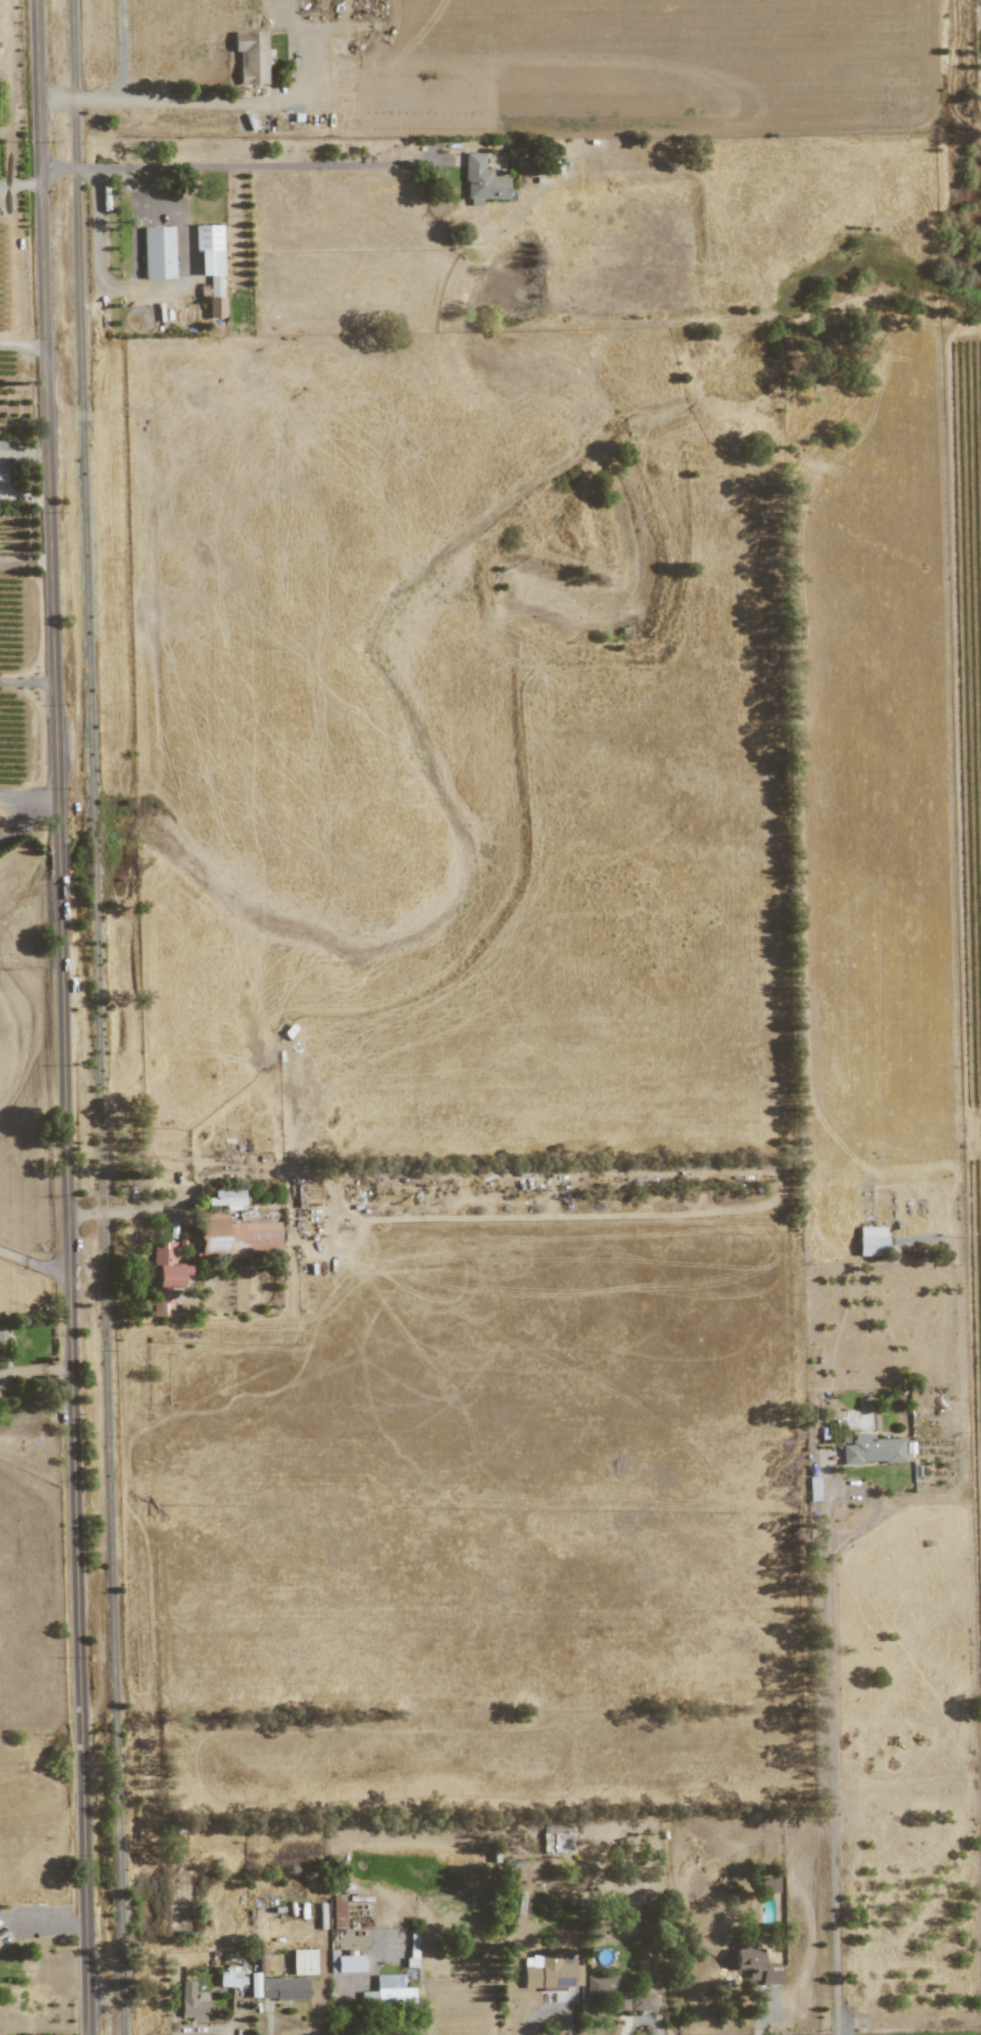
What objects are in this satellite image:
building: (251, 57)
road: (119, 91)
road: (255, 104)
road: (289, 166)
road: (84, 169)
road: (127, 182)
building: (481, 182)
road: (134, 242)
road: (97, 243)
road: (177, 248)
building: (157, 252)
building: (210, 264)
road: (24, 343)
road: (28, 683)
road: (30, 798)
road: (10, 820)
road: (67, 1017)
road: (197, 1180)
building: (226, 1200)
road: (87, 1215)
building: (236, 1238)
building: (871, 1241)
road: (14, 1255)
road: (51, 1268)
building: (165, 1279)
building: (2, 1337)
building: (871, 1451)
building: (813, 1489)
road: (863, 1490)
road: (829, 1789)
building: (561, 1837)
building: (768, 1885)
building: (338, 1911)
building: (302, 1962)
building: (344, 1963)
building: (756, 1967)
building: (228, 1978)
building: (255, 1980)
building: (282, 1989)
building: (391, 1990)
building: (617, 1994)
building: (191, 2003)

